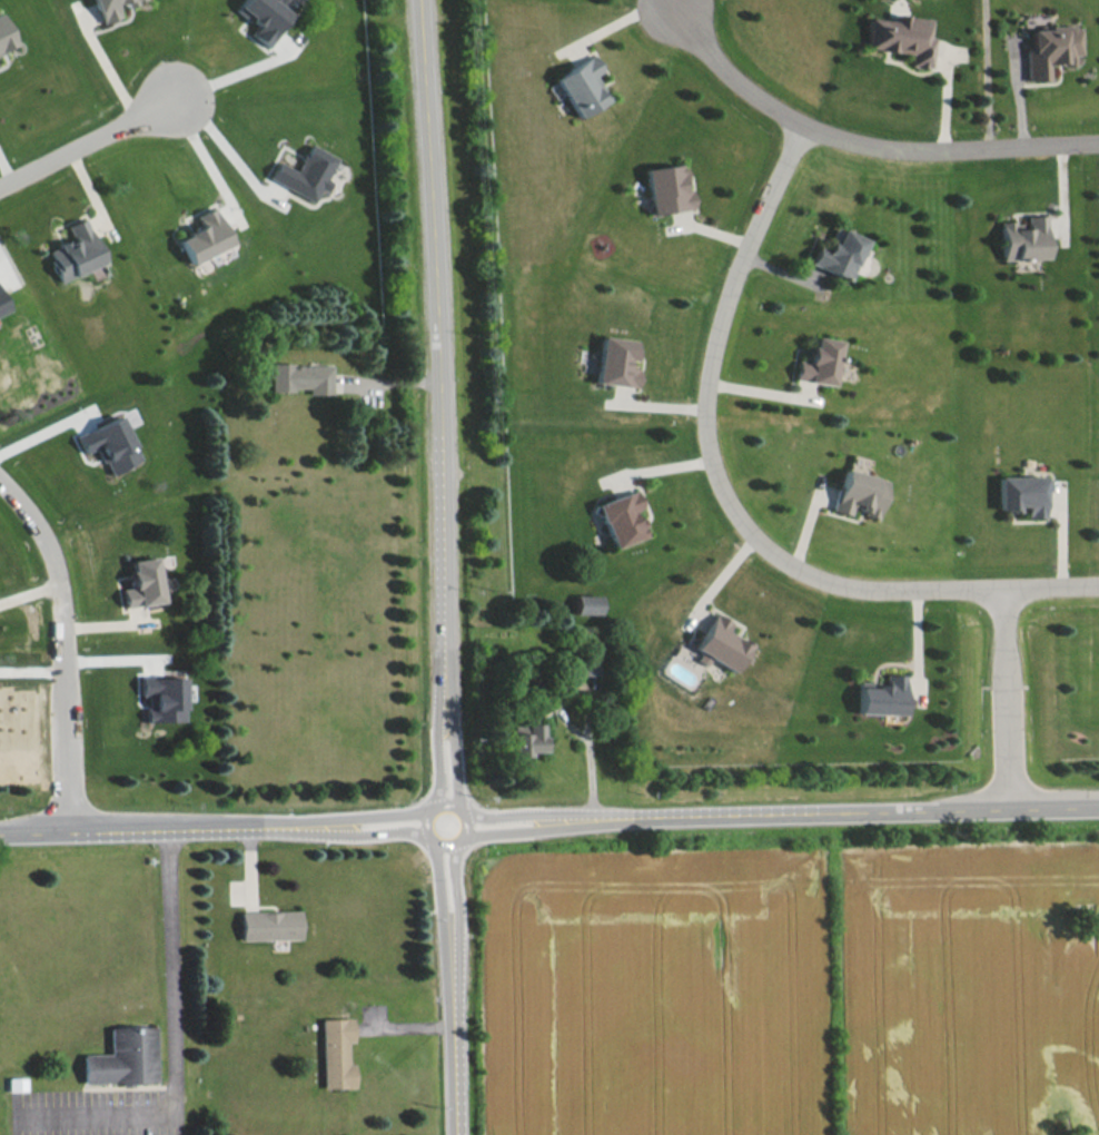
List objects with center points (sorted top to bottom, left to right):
road: (670, 4)
building: (107, 8)
building: (264, 16)
road: (423, 33)
building: (3, 37)
building: (901, 37)
building: (1049, 48)
road: (115, 73)
road: (984, 75)
road: (239, 86)
building: (578, 86)
road: (862, 142)
road: (91, 155)
road: (232, 157)
road: (11, 165)
road: (214, 169)
building: (304, 171)
building: (664, 189)
building: (202, 236)
building: (1022, 238)
building: (73, 250)
building: (838, 254)
building: (1, 306)
building: (614, 362)
building: (819, 362)
building: (300, 377)
road: (46, 430)
building: (108, 444)
building: (859, 493)
building: (1021, 493)
road: (732, 502)
building: (620, 517)
building: (142, 582)
road: (440, 601)
building: (586, 603)
building: (720, 642)
road: (66, 645)
building: (588, 667)
building: (881, 695)
building: (162, 698)
road: (1007, 701)
road: (588, 712)
building: (526, 738)
road: (548, 823)
building: (268, 924)
road: (167, 971)
building: (335, 1052)
building: (122, 1057)
road: (92, 1111)

